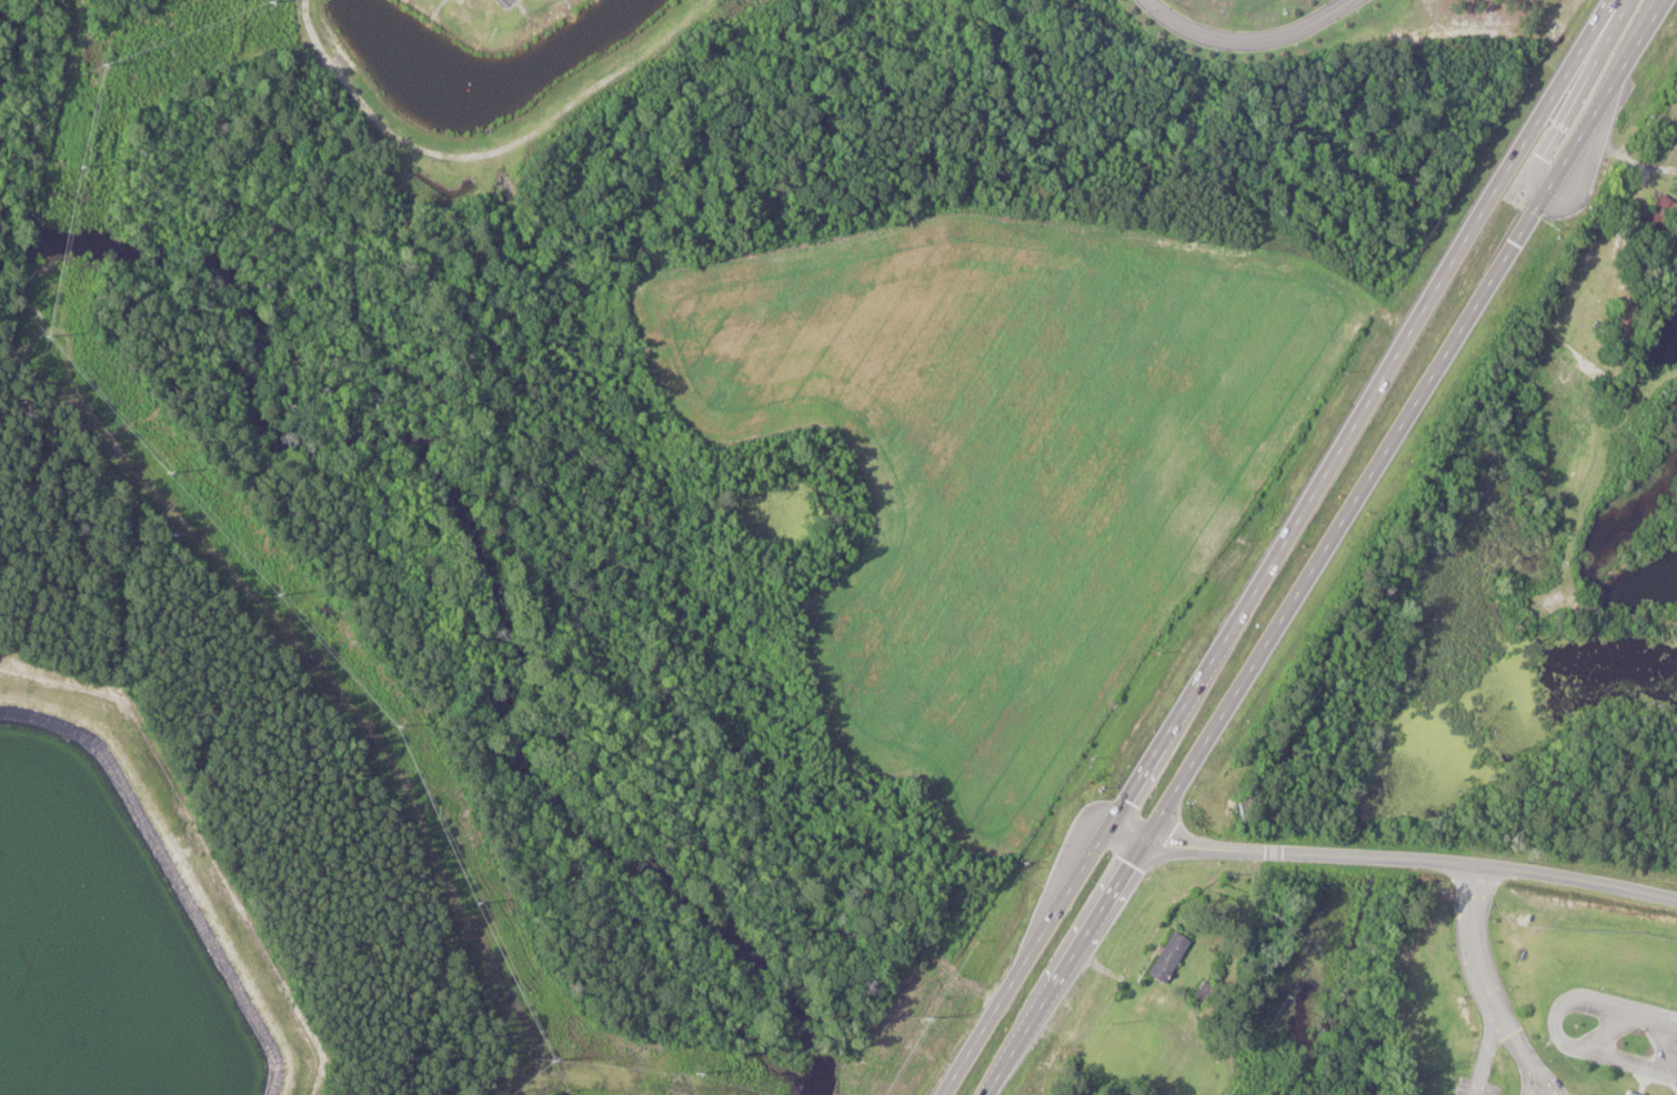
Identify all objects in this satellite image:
power tower: (267, 1)
power substation: (504, 1)
road: (1247, 42)
power tower: (104, 64)
power tower: (83, 167)
building: (1656, 212)
traffic signals: (1532, 214)
building: (1594, 281)
power tower: (53, 338)
power tower: (174, 473)
road: (1281, 547)
road: (1324, 547)
power tower: (280, 593)
power tower: (400, 725)
road: (1394, 856)
power tower: (480, 903)
road: (1475, 941)
building: (1164, 957)
road: (1559, 1024)
road: (1614, 1031)
parking lot: (1663, 1037)
road: (1493, 1053)
road: (1530, 1053)
power tower: (554, 1057)
power tower: (697, 1074)
road: (1538, 1082)
parking lot: (1478, 1088)
building: (1675, 1091)
parking lot: (1527, 1092)
building: (1626, 1094)

